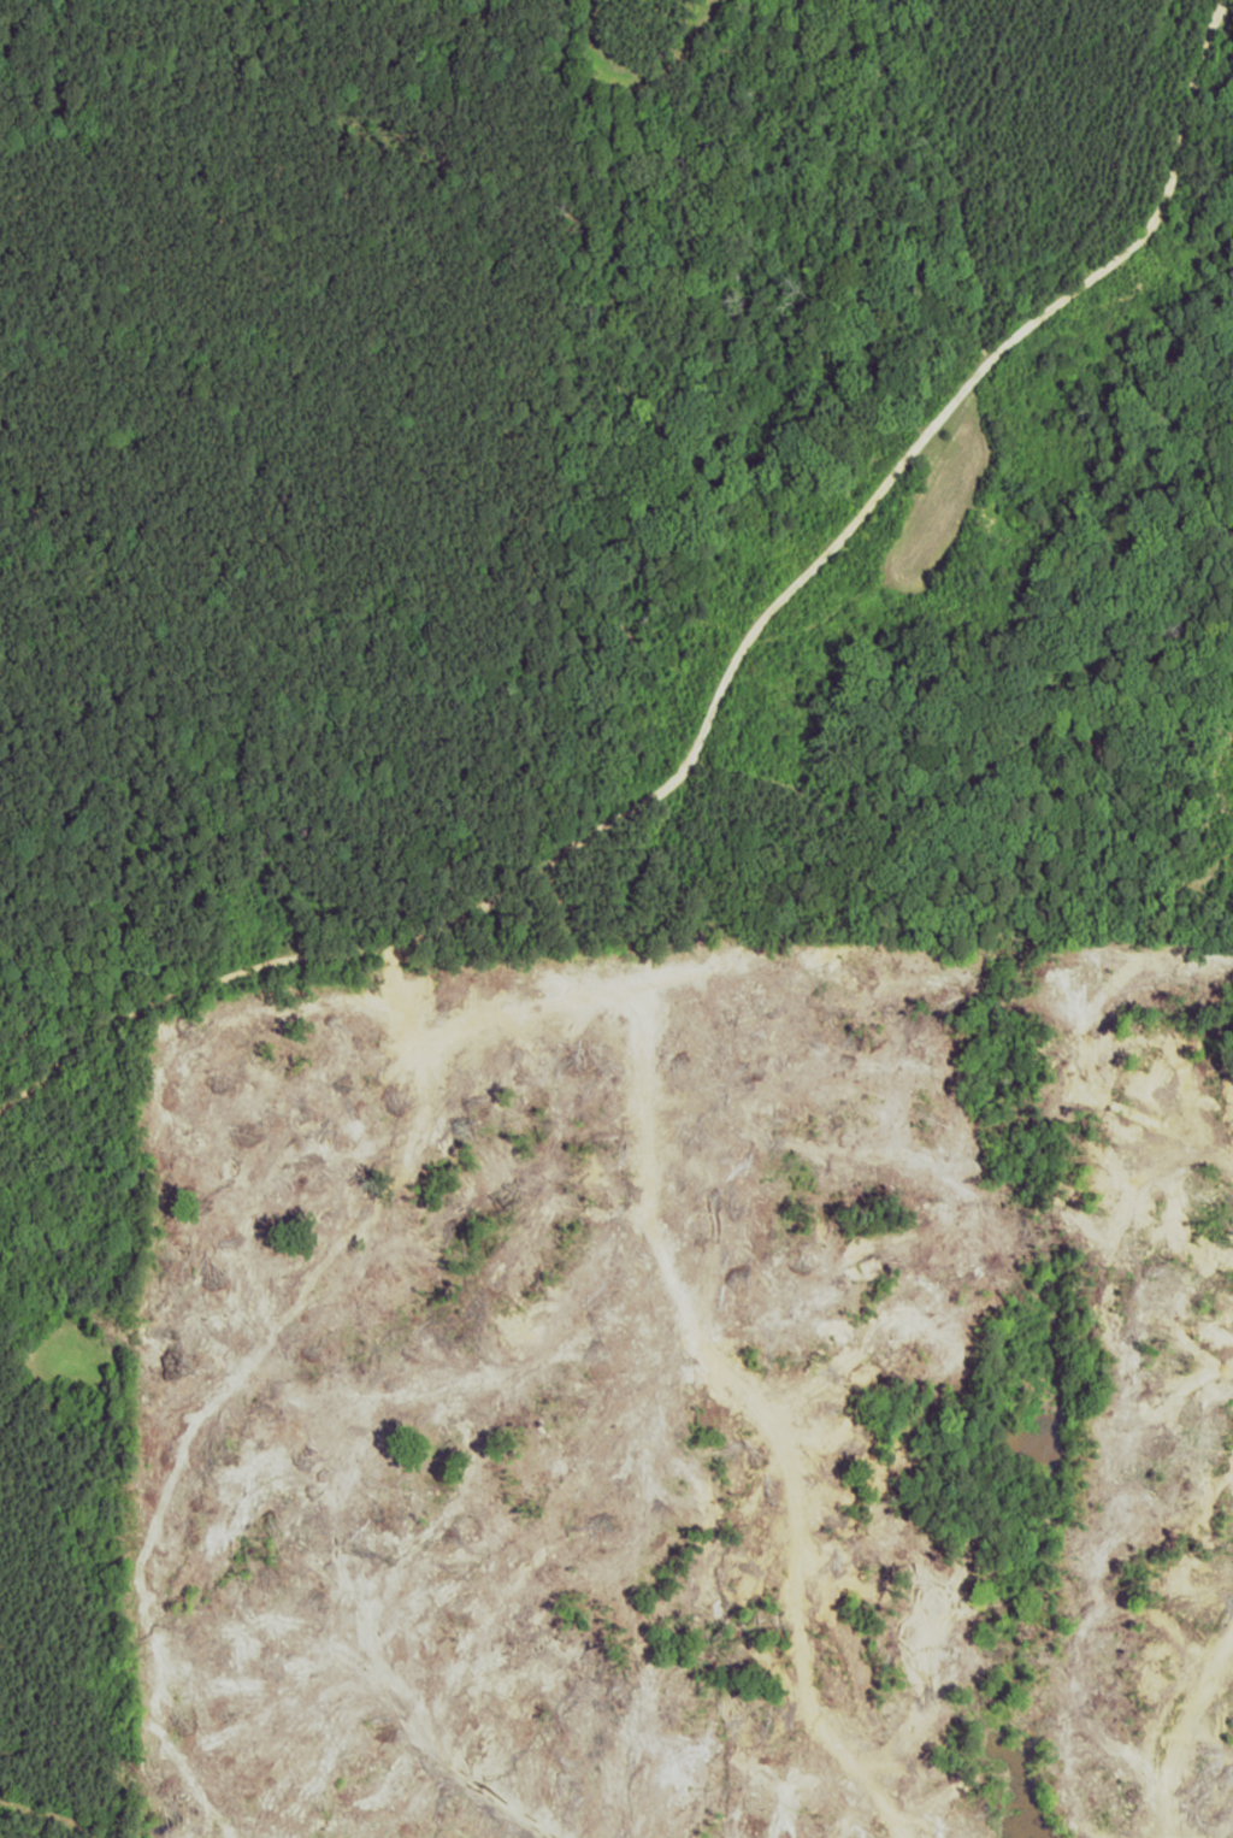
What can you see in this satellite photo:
road: (730, 715)

